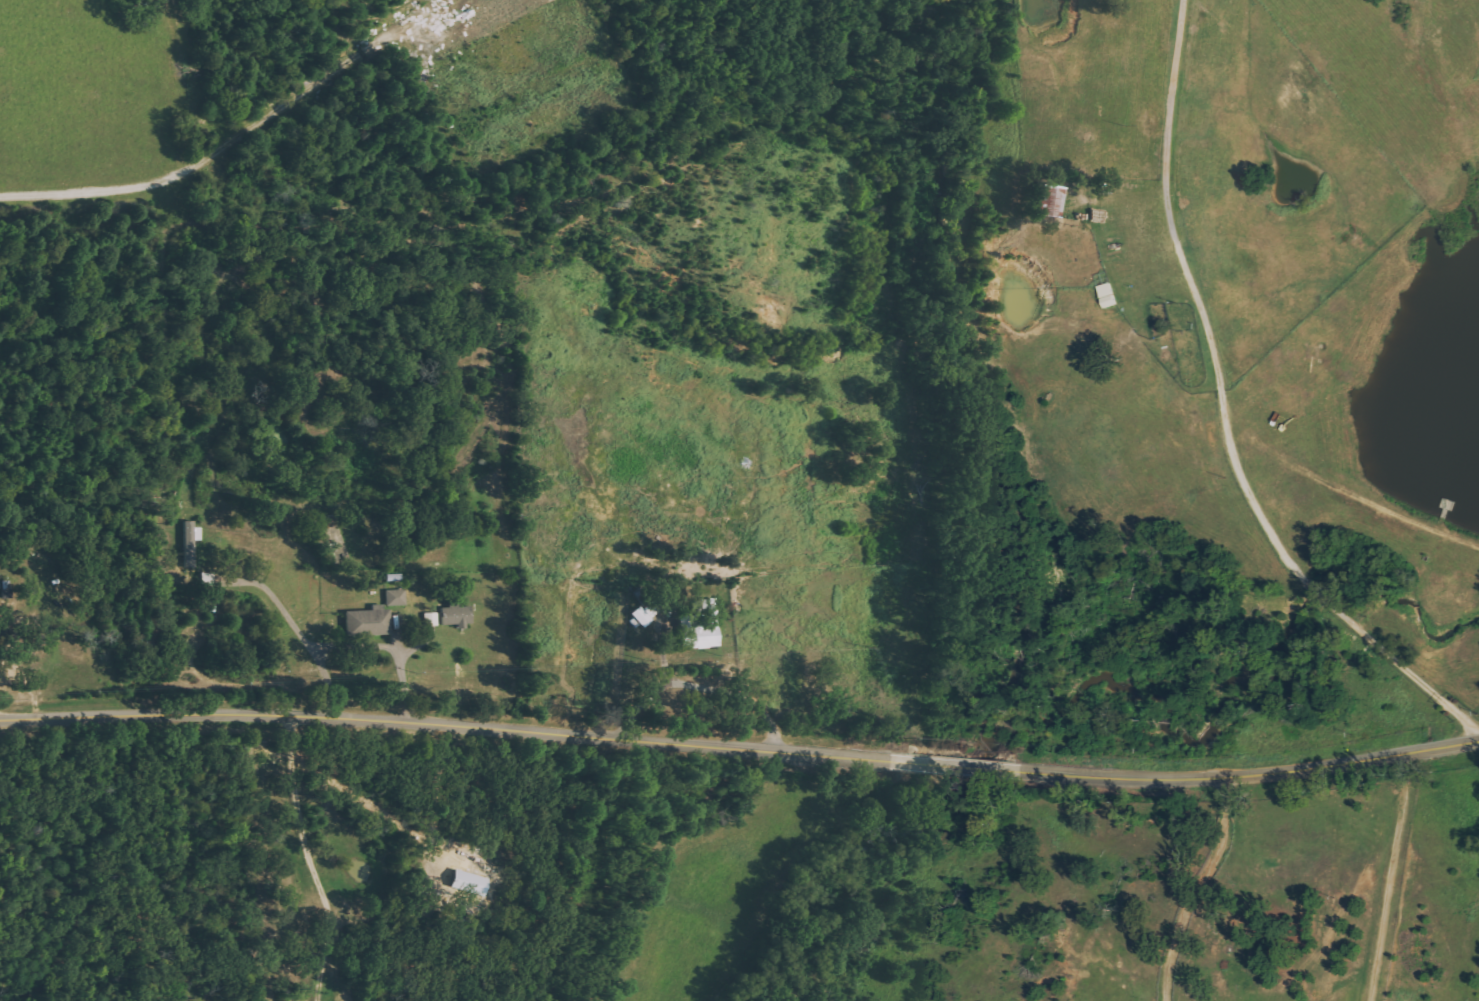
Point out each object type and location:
building: (1045, 201)
building: (191, 543)
building: (397, 597)
building: (458, 614)
building: (644, 616)
building: (433, 619)
building: (370, 622)
building: (703, 626)
road: (894, 629)
road: (896, 695)
road: (740, 747)
road: (1386, 867)

